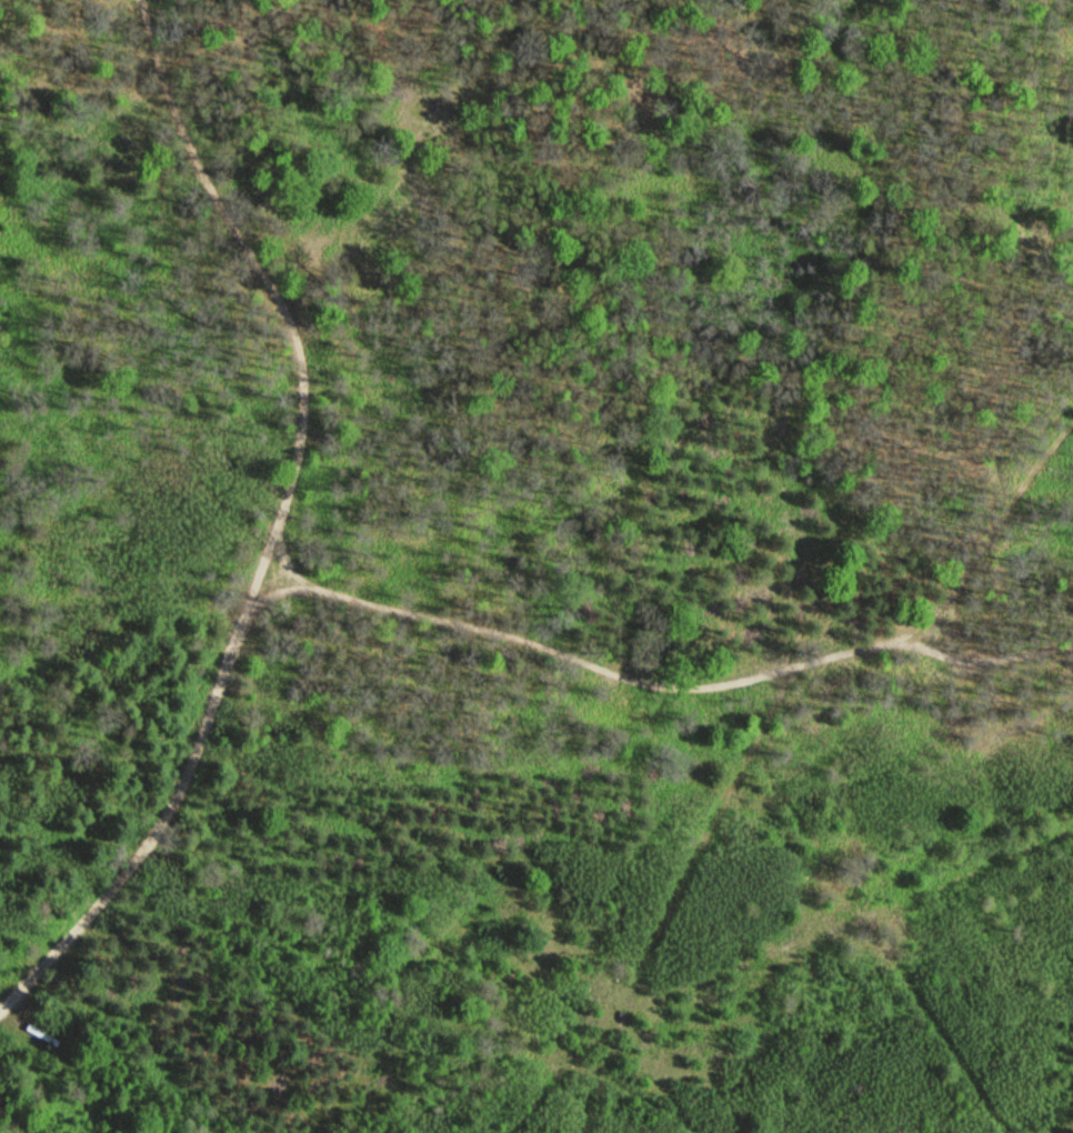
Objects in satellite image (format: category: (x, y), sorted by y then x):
road: (277, 525)
road: (284, 563)
road: (273, 595)
road: (684, 689)
building: (43, 1034)

